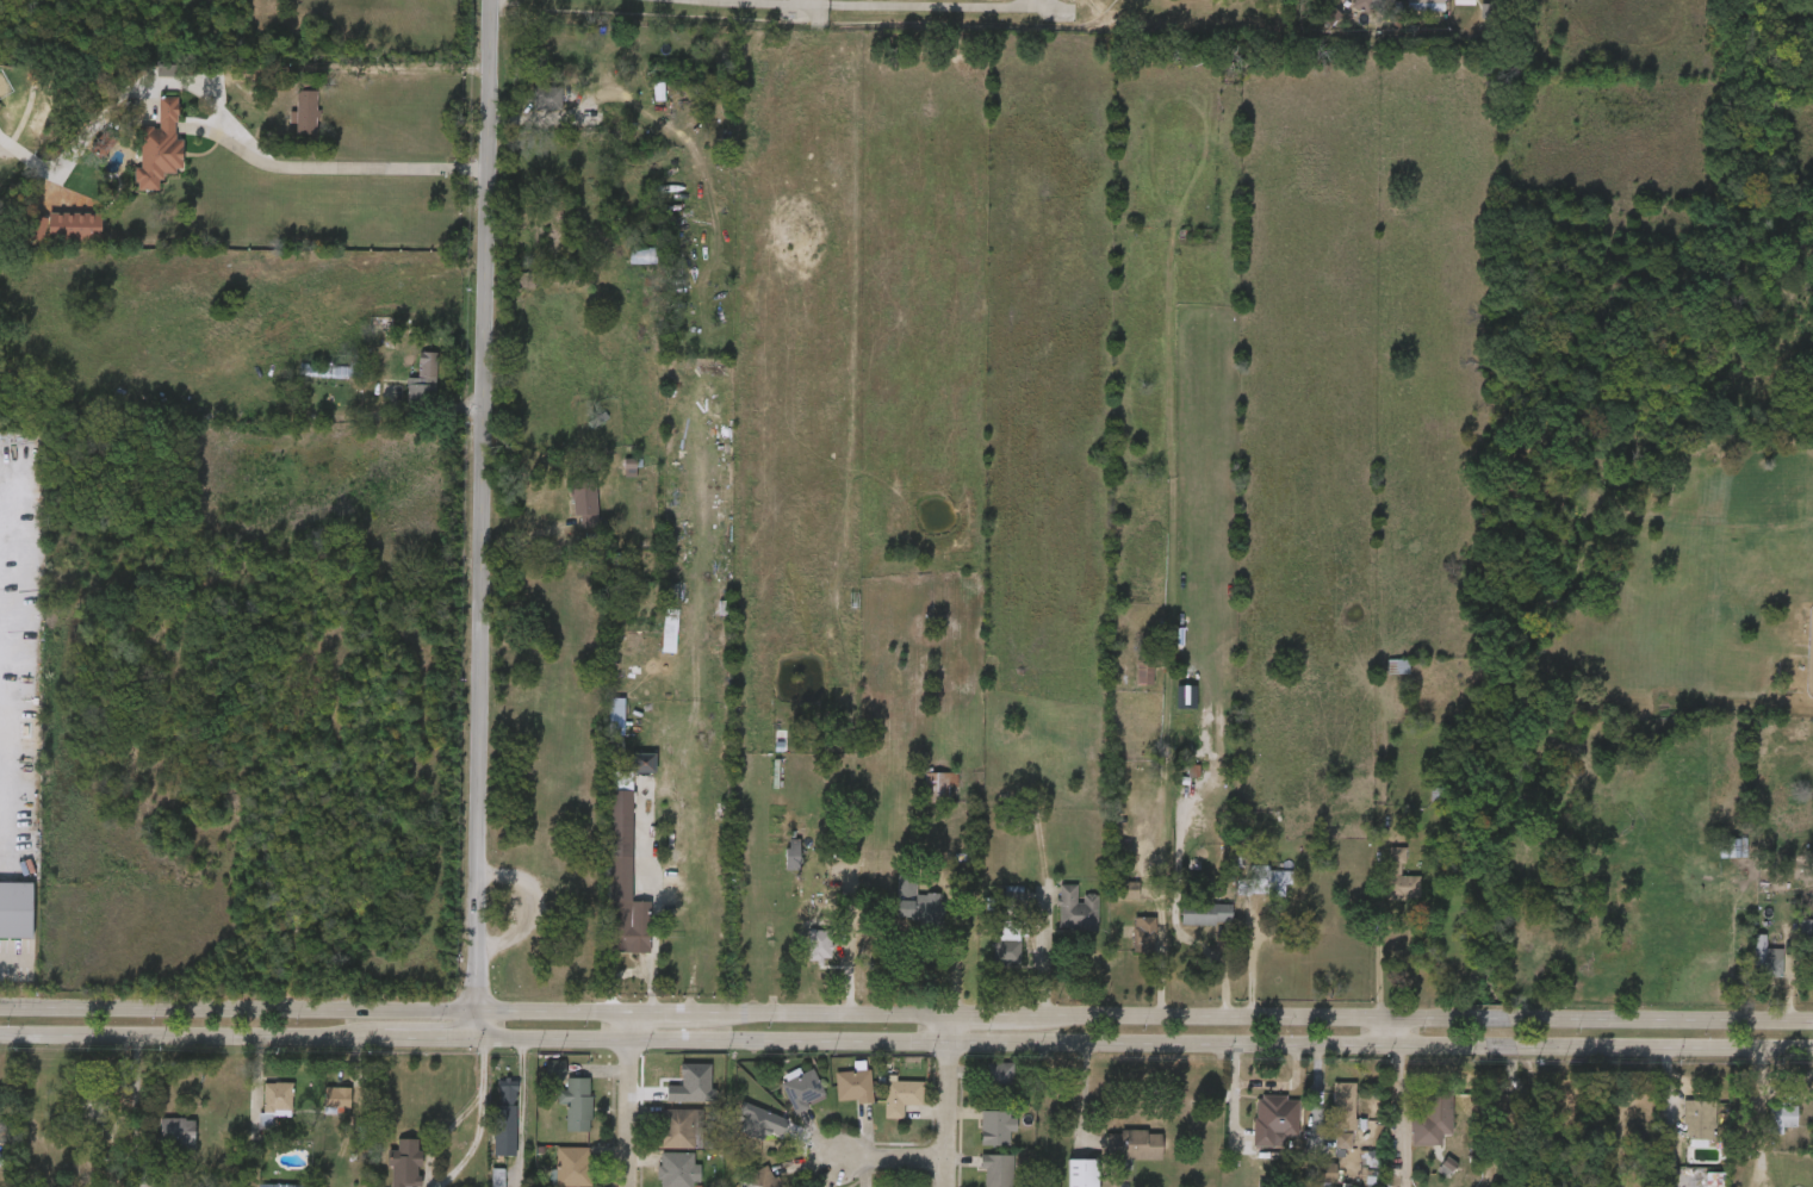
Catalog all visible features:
building: (1386, 1)
building: (1426, 1)
road: (919, 2)
building: (1465, 2)
building: (1364, 6)
building: (1445, 8)
building: (1407, 12)
building: (1312, 31)
road: (392, 67)
building: (640, 105)
building: (528, 111)
building: (305, 113)
building: (286, 125)
building: (159, 148)
building: (141, 161)
road: (329, 180)
building: (49, 240)
building: (362, 336)
building: (308, 384)
building: (405, 393)
building: (611, 480)
building: (566, 516)
road: (479, 520)
building: (651, 647)
building: (1378, 679)
building: (626, 776)
building: (938, 785)
building: (920, 798)
building: (1397, 857)
building: (1713, 860)
building: (775, 868)
building: (1262, 880)
building: (608, 884)
building: (1404, 887)
building: (1128, 890)
building: (1380, 890)
building: (913, 900)
building: (995, 905)
building: (1075, 908)
building: (15, 909)
building: (1206, 913)
building: (795, 914)
building: (898, 914)
building: (1056, 921)
road: (852, 926)
building: (1807, 931)
building: (1143, 934)
building: (1788, 940)
building: (1008, 943)
building: (1124, 947)
road: (13, 961)
road: (1389, 962)
building: (1767, 964)
building: (987, 965)
building: (1745, 971)
road: (906, 1015)
road: (1389, 1034)
road: (906, 1044)
building: (554, 1069)
building: (536, 1082)
building: (998, 1082)
building: (853, 1086)
building: (981, 1087)
building: (803, 1090)
building: (901, 1095)
building: (336, 1099)
road: (621, 1099)
building: (836, 1099)
road: (937, 1101)
building: (577, 1104)
building: (784, 1104)
building: (275, 1105)
building: (1345, 1106)
building: (882, 1108)
building: (94, 1110)
building: (321, 1112)
building: (256, 1115)
building: (1782, 1115)
building: (558, 1117)
road: (462, 1118)
building: (504, 1118)
building: (1325, 1118)
building: (1271, 1119)
building: (1699, 1120)
building: (1433, 1121)
building: (682, 1127)
building: (998, 1127)
building: (768, 1130)
building: (1762, 1130)
building: (488, 1132)
building: (1679, 1132)
building: (1414, 1133)
building: (176, 1136)
building: (977, 1139)
building: (659, 1141)
building: (159, 1145)
building: (1135, 1145)
building: (1324, 1154)
building: (1115, 1157)
road: (883, 1160)
building: (404, 1163)
building: (573, 1167)
building: (386, 1169)
building: (678, 1170)
building: (995, 1170)
building: (553, 1173)
building: (1082, 1173)
building: (979, 1176)
building: (758, 1179)
building: (1063, 1179)
building: (1714, 1180)
building: (1308, 1181)
building: (479, 1183)
building: (1352, 1185)
building: (1694, 1186)

